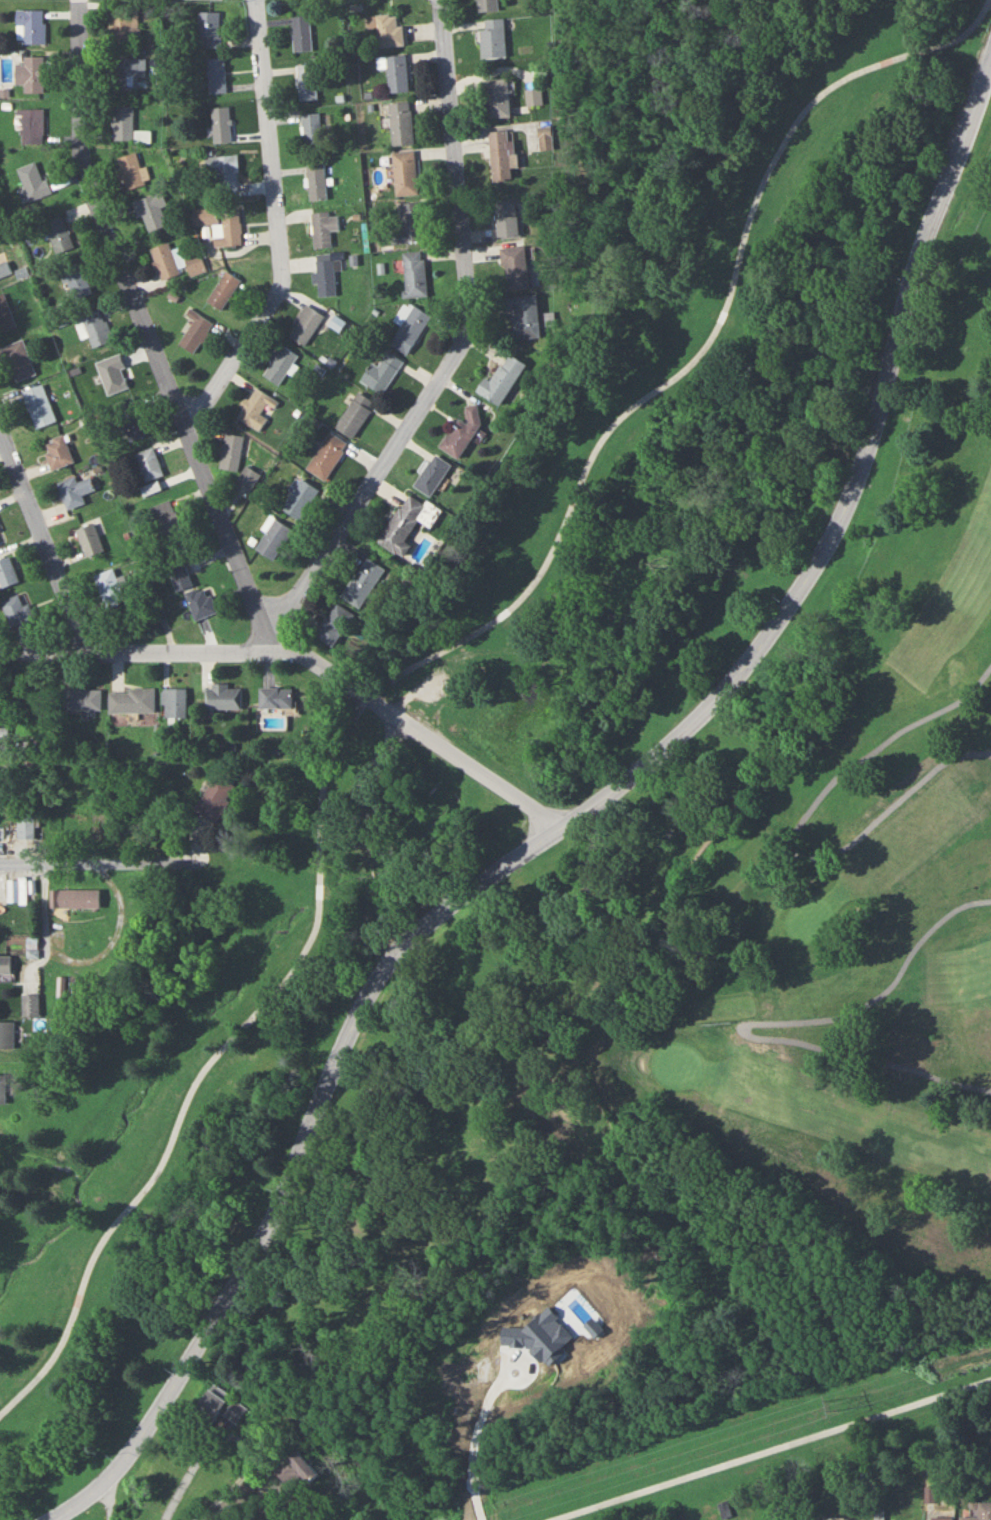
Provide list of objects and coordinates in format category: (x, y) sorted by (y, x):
building: (486, 5)
building: (124, 24)
building: (210, 28)
building: (388, 29)
building: (302, 32)
building: (493, 38)
building: (395, 72)
building: (31, 73)
building: (131, 74)
building: (217, 74)
building: (307, 81)
building: (535, 95)
building: (498, 98)
building: (123, 123)
building: (401, 123)
building: (222, 124)
building: (32, 125)
building: (312, 130)
building: (143, 136)
building: (547, 138)
building: (502, 156)
building: (131, 171)
building: (225, 172)
building: (404, 172)
building: (33, 180)
building: (316, 181)
building: (152, 211)
building: (205, 215)
building: (509, 219)
building: (408, 223)
building: (232, 227)
building: (324, 227)
road: (280, 228)
building: (59, 234)
building: (165, 260)
building: (195, 263)
building: (515, 267)
building: (4, 268)
building: (414, 273)
building: (326, 277)
building: (77, 278)
building: (224, 289)
building: (5, 315)
building: (524, 315)
building: (305, 324)
building: (408, 326)
building: (97, 327)
road: (150, 330)
building: (196, 331)
road: (460, 338)
building: (18, 359)
building: (281, 364)
building: (382, 372)
building: (109, 374)
building: (502, 379)
building: (39, 406)
building: (257, 408)
building: (355, 414)
building: (132, 419)
building: (462, 430)
building: (231, 451)
building: (58, 452)
building: (327, 455)
building: (149, 463)
building: (433, 474)
building: (249, 475)
building: (74, 490)
building: (300, 498)
building: (166, 516)
building: (407, 522)
building: (273, 538)
road: (49, 539)
building: (89, 539)
building: (0, 543)
building: (8, 571)
building: (179, 575)
building: (363, 582)
building: (109, 587)
building: (18, 609)
building: (335, 624)
road: (138, 648)
road: (432, 653)
building: (223, 696)
building: (275, 697)
building: (83, 698)
building: (131, 700)
building: (173, 702)
road: (420, 732)
park: (511, 770)
road: (366, 775)
building: (215, 798)
road: (570, 819)
building: (26, 827)
road: (356, 846)
road: (111, 861)
road: (359, 871)
road: (758, 872)
building: (17, 890)
building: (75, 898)
park: (808, 916)
road: (374, 928)
road: (84, 957)
building: (5, 964)
building: (29, 1005)
road: (762, 1022)
building: (6, 1035)
park: (767, 1061)
park: (678, 1062)
building: (222, 1404)
power tower: (829, 1407)
road: (471, 1443)
road: (766, 1448)
building: (298, 1468)
building: (724, 1509)
building: (779, 1511)
building: (980, 1511)
building: (941, 1517)

